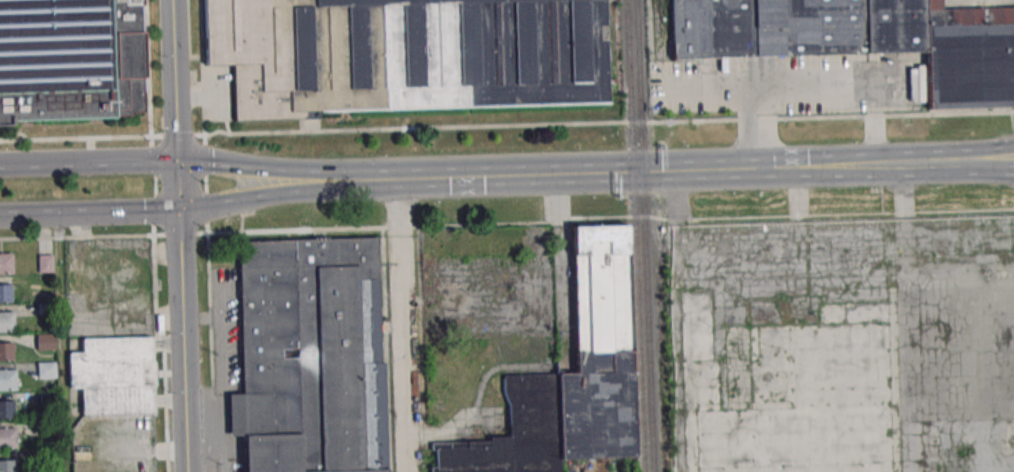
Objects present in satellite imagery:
building: (795, 28)
building: (408, 55)
building: (70, 59)
building: (970, 66)
road: (202, 71)
road: (819, 84)
road: (747, 87)
road: (414, 129)
road: (987, 155)
traffic signals: (180, 161)
road: (191, 161)
road: (877, 163)
road: (984, 164)
road: (21, 165)
road: (1011, 168)
road: (566, 173)
road: (205, 182)
road: (171, 210)
traffic signals: (180, 210)
road: (181, 235)
railway: (645, 235)
road: (104, 236)
railway: (635, 236)
building: (6, 263)
building: (6, 292)
building: (6, 320)
road: (402, 325)
building: (45, 341)
road: (60, 343)
road: (211, 346)
building: (6, 351)
building: (599, 351)
building: (309, 356)
building: (46, 370)
building: (113, 374)
building: (7, 379)
building: (7, 409)
building: (514, 433)
building: (8, 437)
building: (7, 465)

